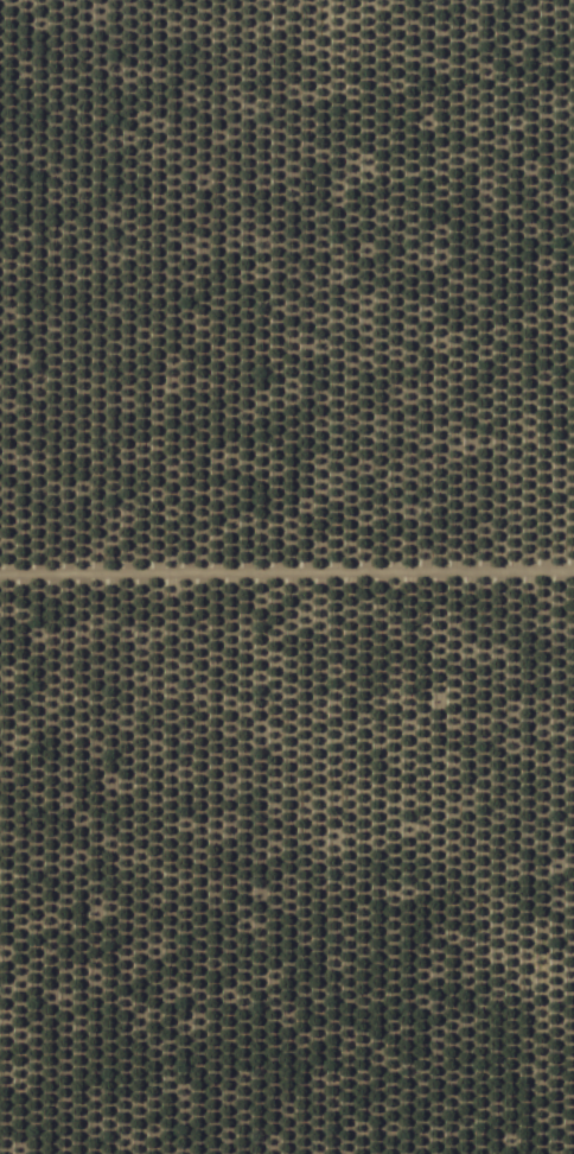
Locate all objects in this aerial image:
road: (287, 571)

